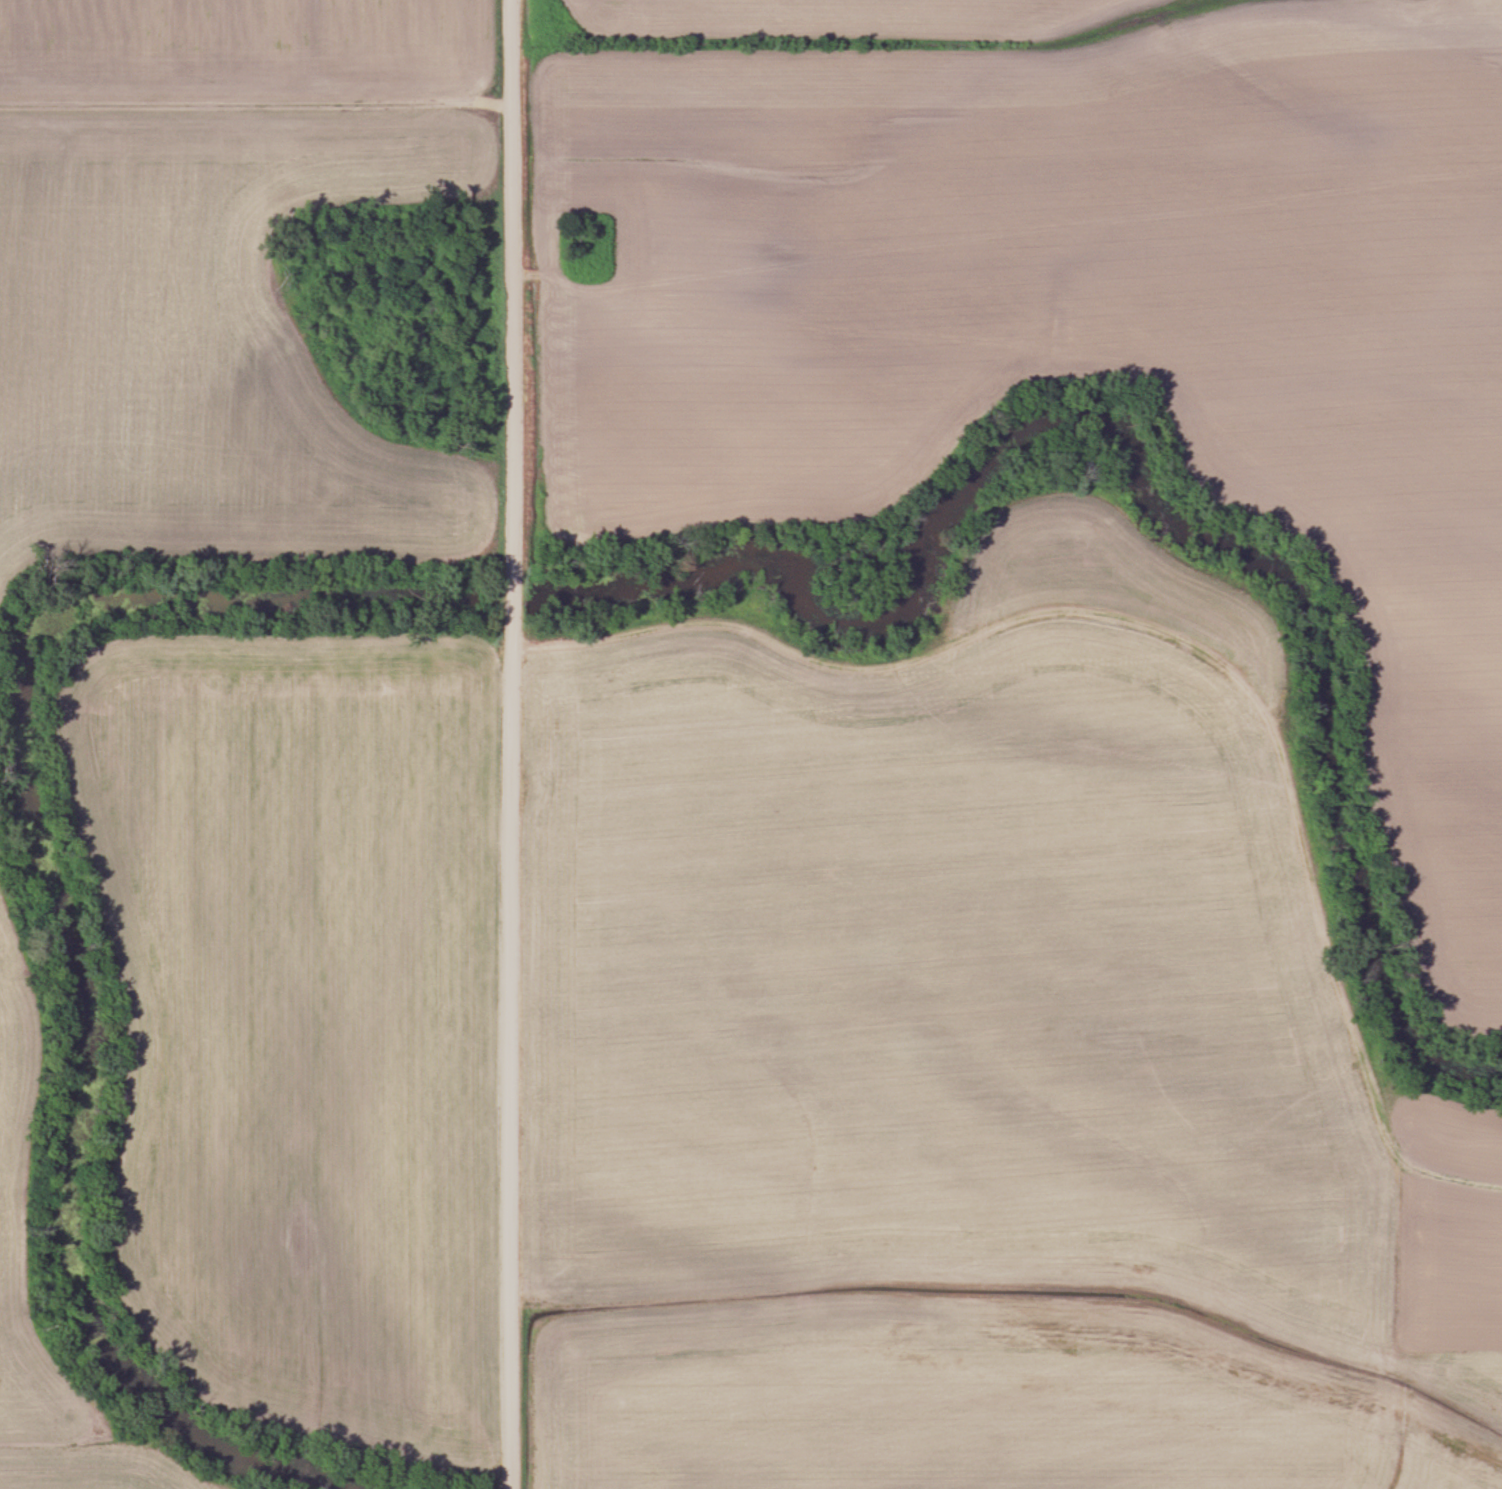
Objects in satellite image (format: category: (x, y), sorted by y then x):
road: (511, 744)

